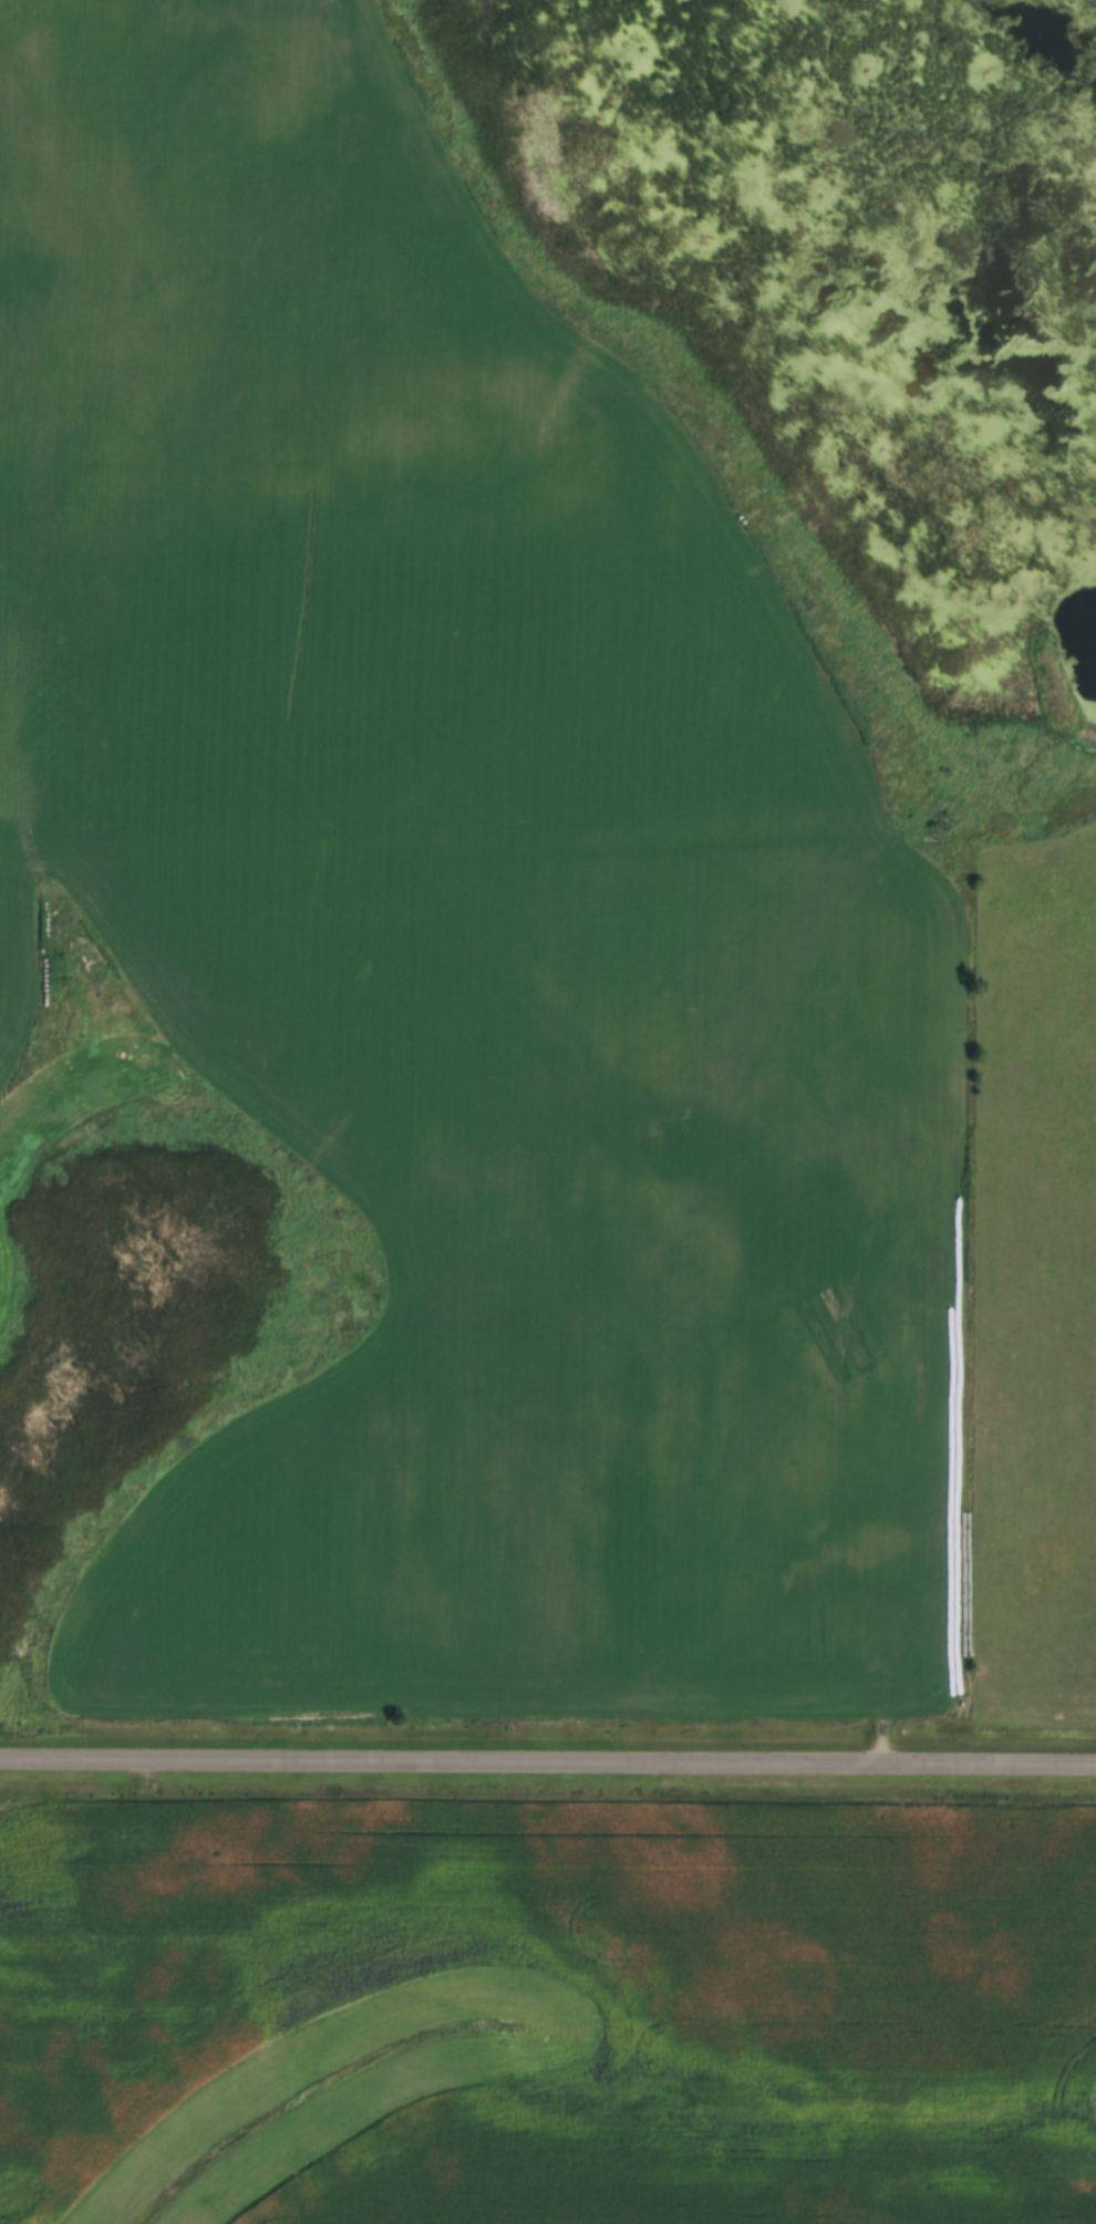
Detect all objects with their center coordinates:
road: (548, 1759)

